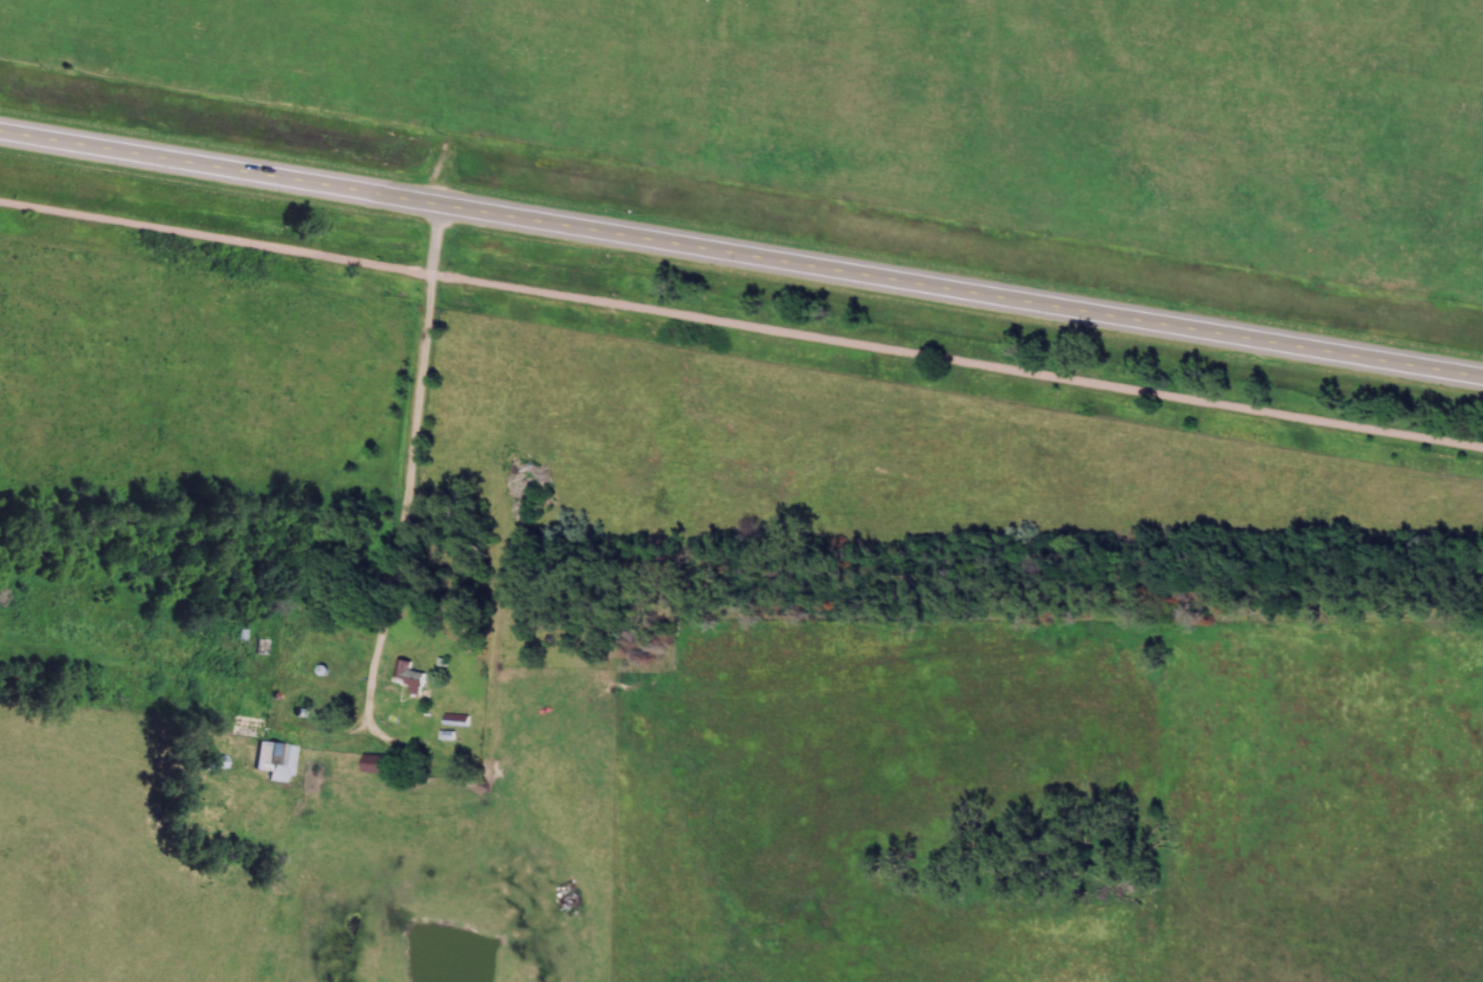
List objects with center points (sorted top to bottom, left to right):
road: (741, 253)
road: (741, 323)
road: (416, 440)
building: (263, 648)
building: (409, 677)
building: (492, 735)
building: (277, 761)
building: (374, 764)

